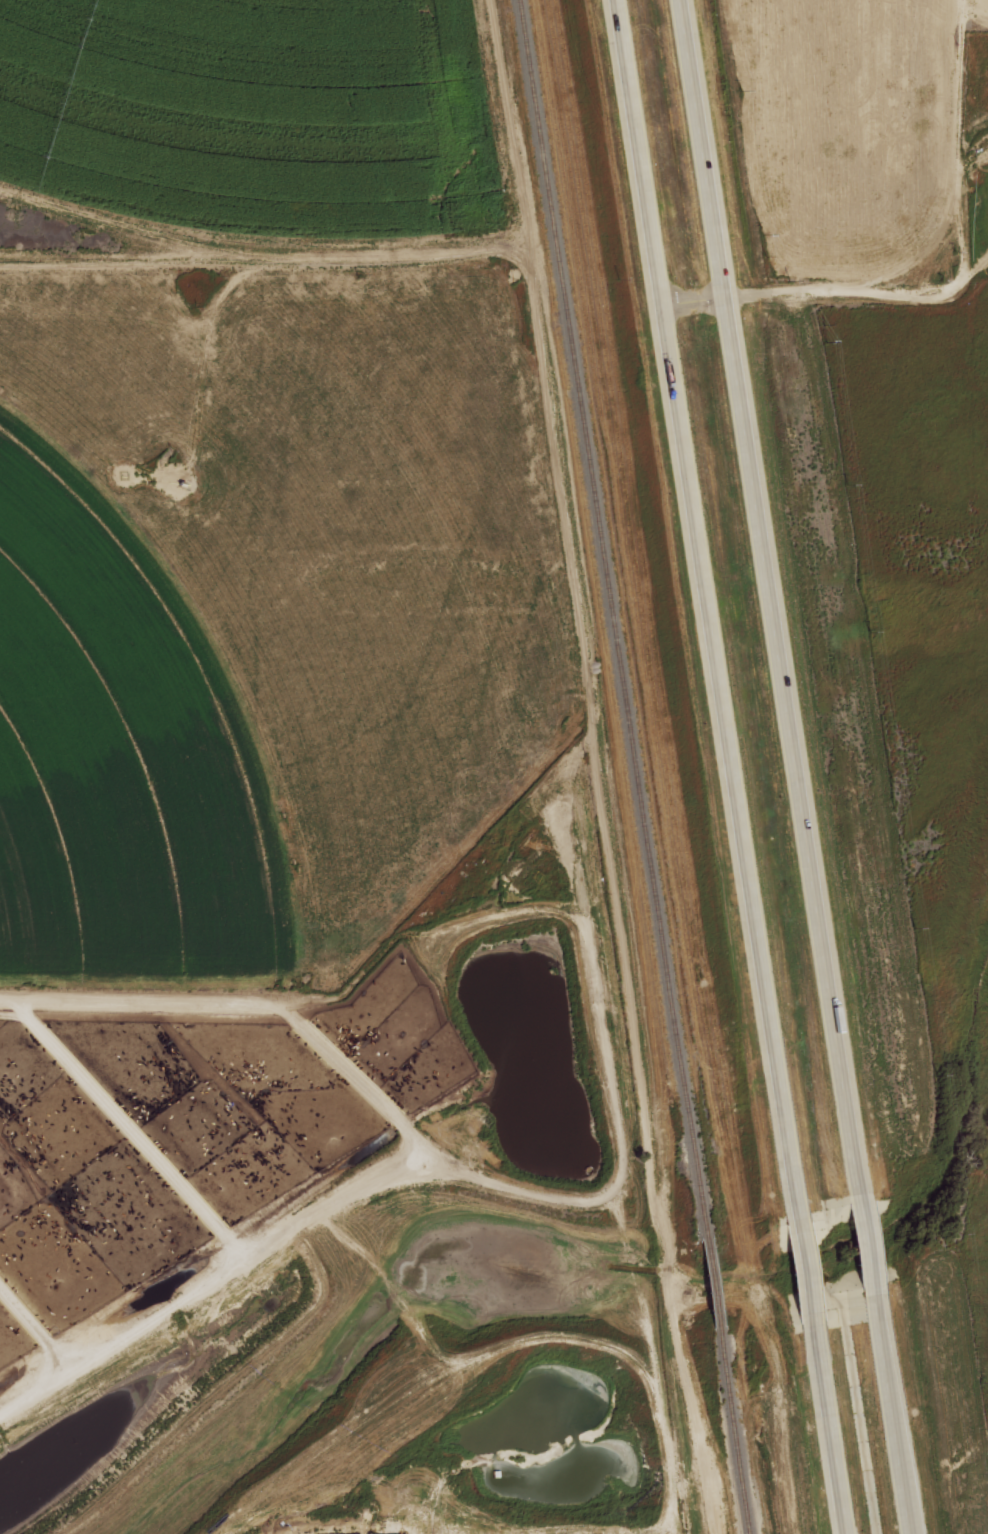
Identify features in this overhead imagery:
road: (959, 261)
road: (691, 300)
road: (796, 766)
railway: (632, 767)
road: (728, 767)
road: (267, 1293)

